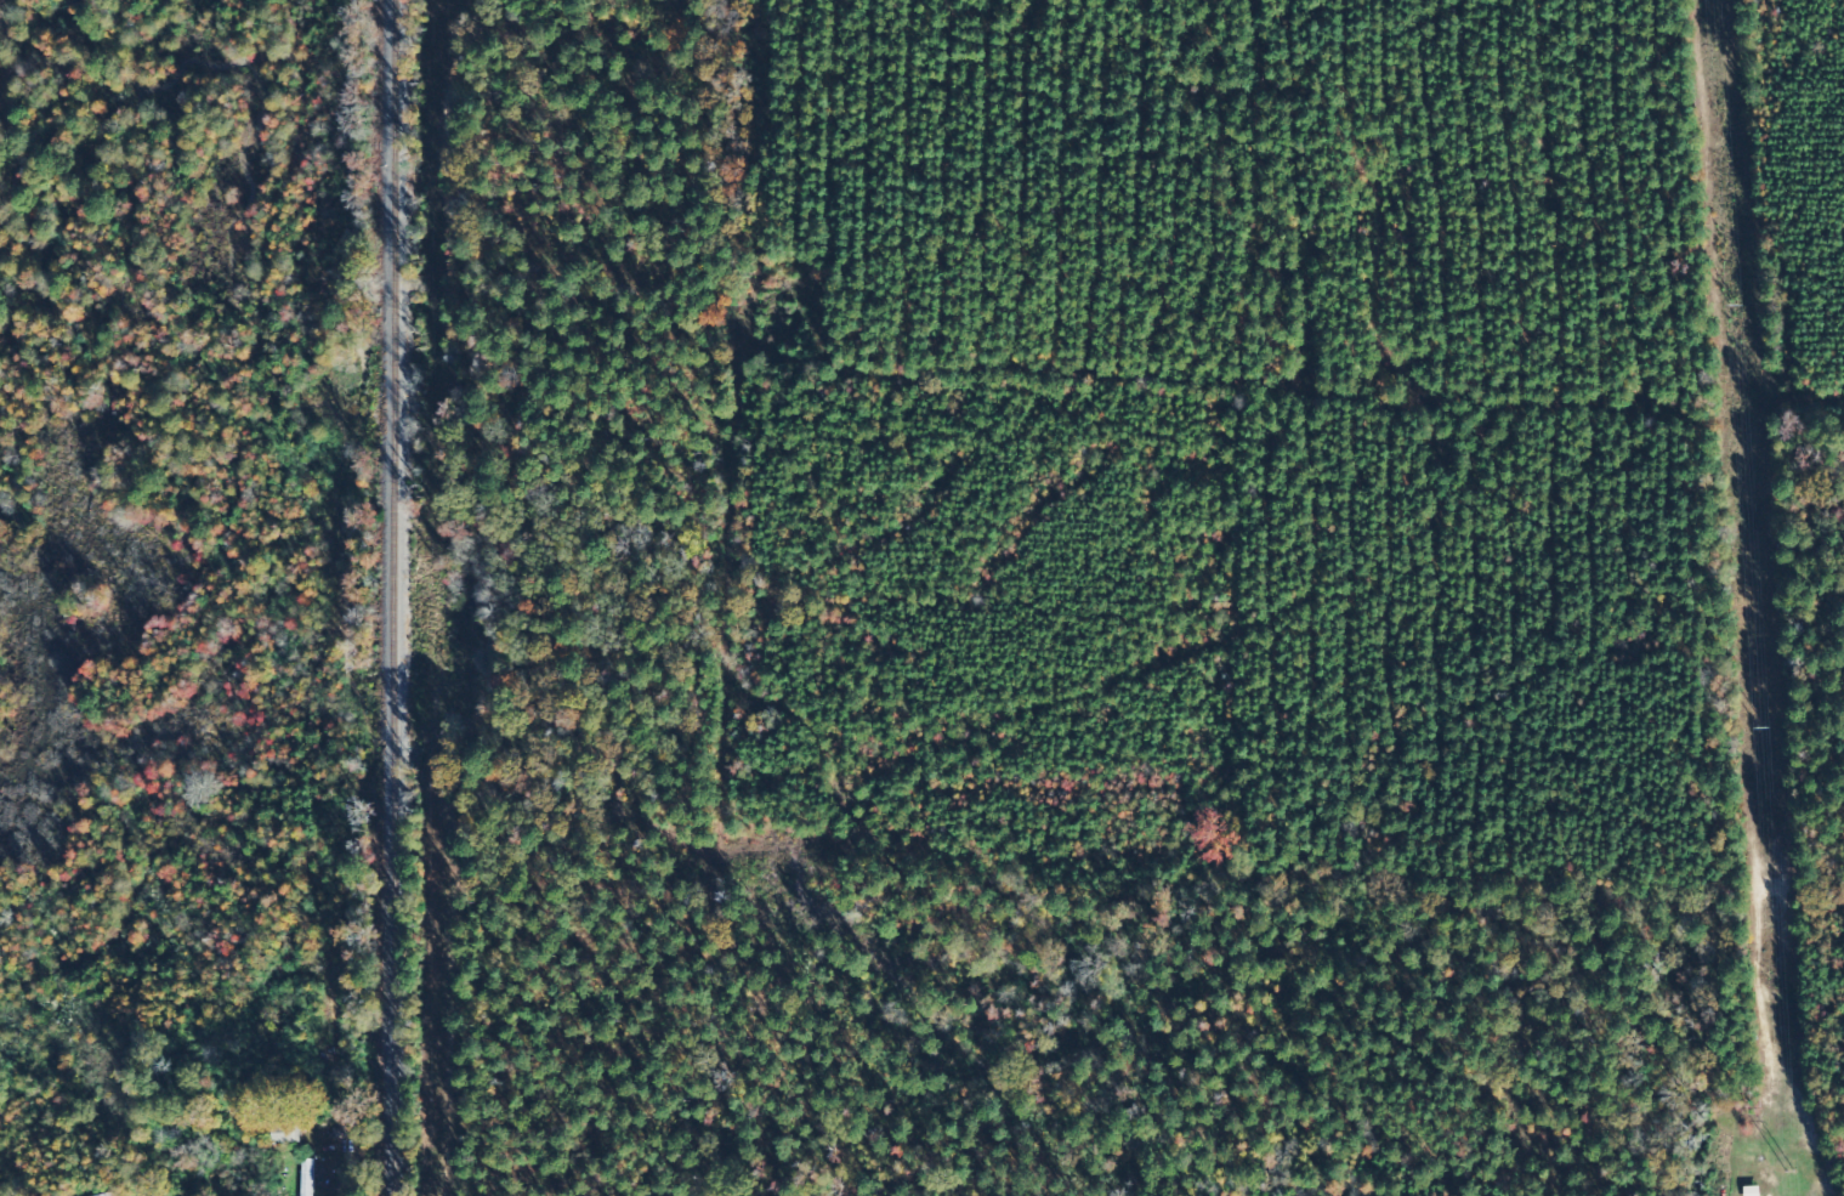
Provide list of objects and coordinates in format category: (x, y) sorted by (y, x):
power tower: (1730, 304)
railway: (409, 597)
power tower: (1759, 727)
building: (285, 1139)
road: (334, 1172)
power tower: (1789, 1173)

